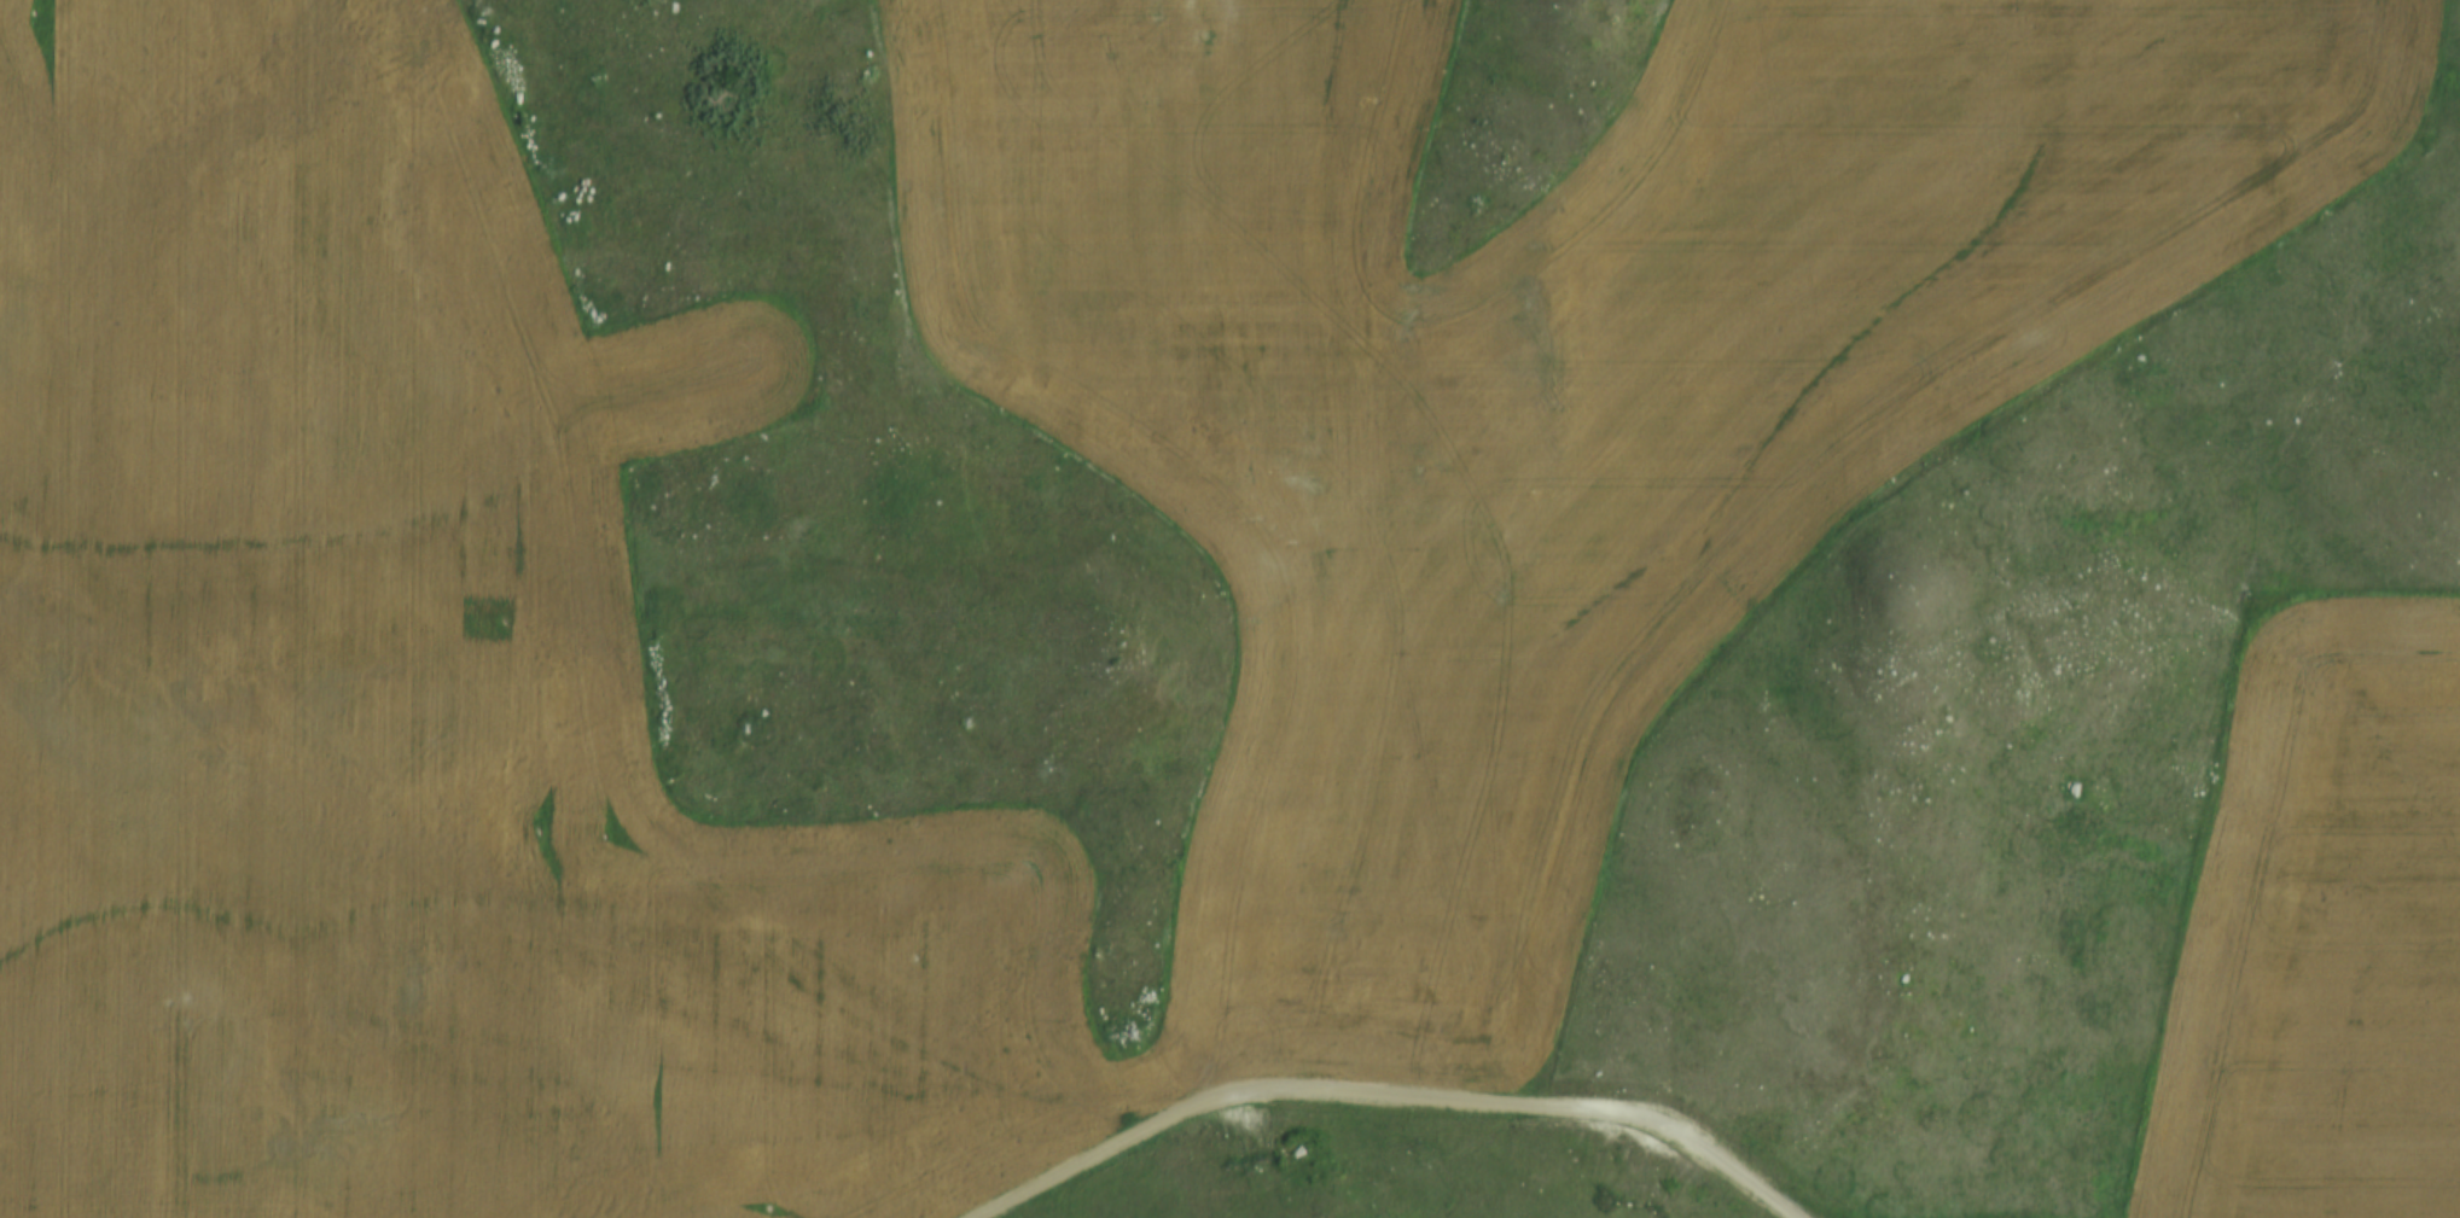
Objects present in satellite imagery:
road: (1388, 1106)

